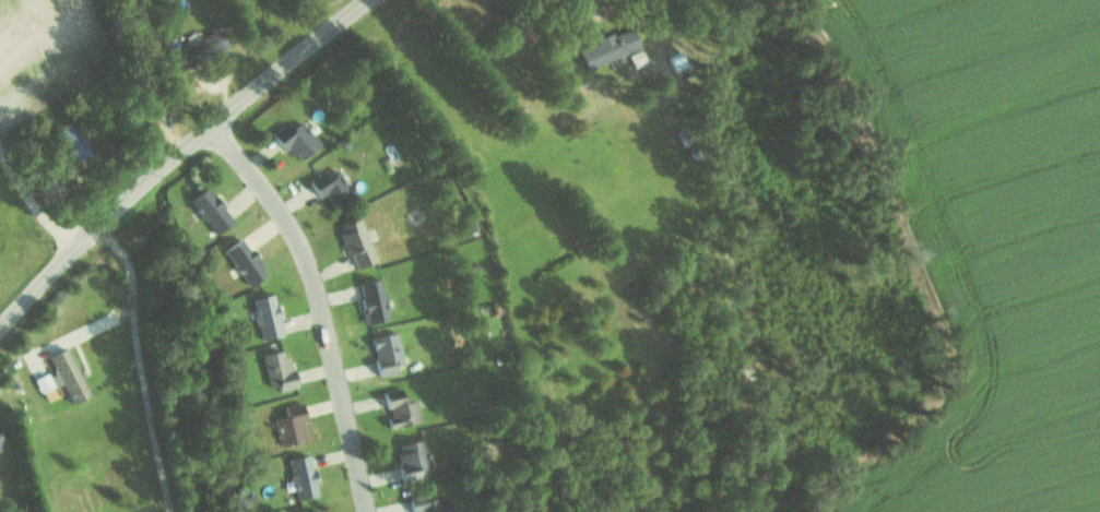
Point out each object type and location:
building: (610, 48)
building: (296, 141)
building: (73, 142)
road: (175, 153)
road: (39, 180)
building: (331, 187)
building: (210, 212)
building: (357, 245)
building: (245, 261)
building: (372, 301)
road: (319, 303)
building: (267, 318)
building: (387, 354)
road: (144, 364)
building: (277, 372)
building: (67, 376)
building: (44, 383)
building: (399, 410)
building: (291, 427)
building: (0, 440)
building: (411, 460)
building: (303, 478)
building: (428, 504)
building: (319, 511)

